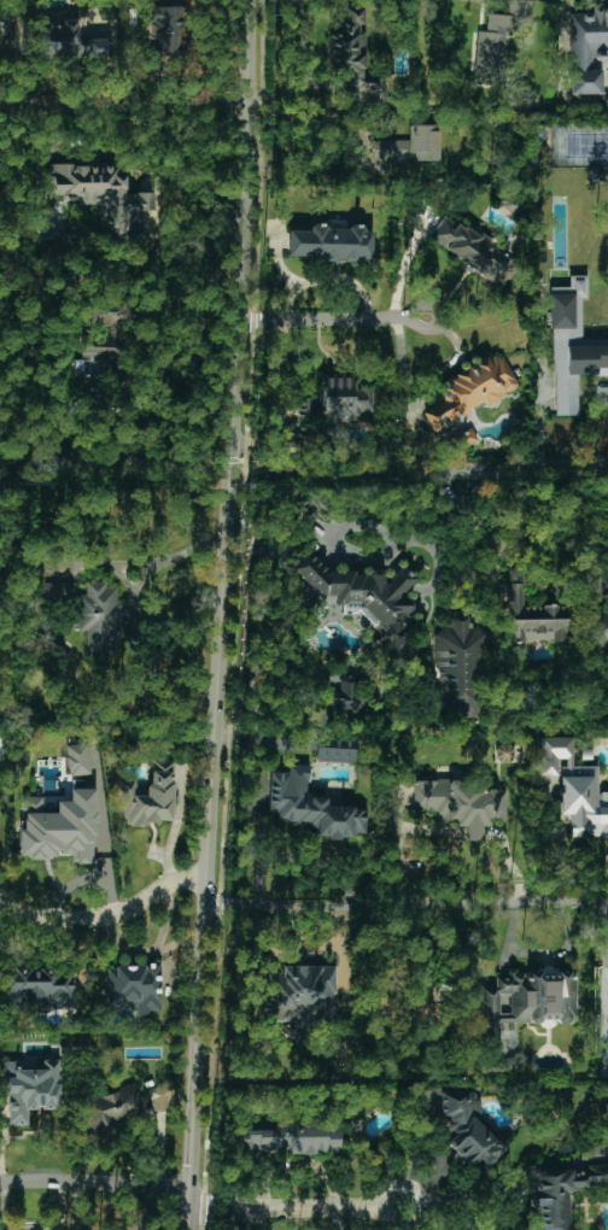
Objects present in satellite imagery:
building: (2, 22)
building: (166, 30)
building: (68, 41)
building: (498, 42)
building: (587, 49)
road: (123, 109)
building: (408, 148)
building: (101, 194)
building: (331, 244)
building: (472, 251)
road: (280, 262)
road: (329, 276)
road: (331, 320)
building: (572, 346)
building: (94, 357)
building: (470, 391)
road: (598, 392)
building: (335, 402)
road: (540, 414)
building: (464, 439)
building: (296, 445)
road: (277, 463)
road: (45, 468)
road: (532, 468)
road: (530, 523)
building: (55, 591)
building: (366, 598)
road: (221, 615)
building: (533, 619)
building: (100, 620)
building: (601, 631)
building: (457, 670)
building: (346, 695)
building: (335, 750)
building: (504, 752)
building: (78, 758)
building: (575, 787)
building: (150, 795)
building: (462, 803)
building: (311, 806)
road: (401, 806)
road: (431, 822)
building: (59, 827)
road: (298, 857)
road: (513, 861)
road: (401, 862)
road: (378, 902)
road: (580, 902)
road: (105, 916)
road: (607, 930)
road: (540, 951)
building: (135, 988)
building: (39, 991)
building: (300, 994)
building: (525, 1003)
building: (30, 1088)
building: (116, 1108)
building: (468, 1130)
building: (293, 1137)
road: (95, 1183)
road: (470, 1194)
building: (560, 1194)
road: (293, 1209)

